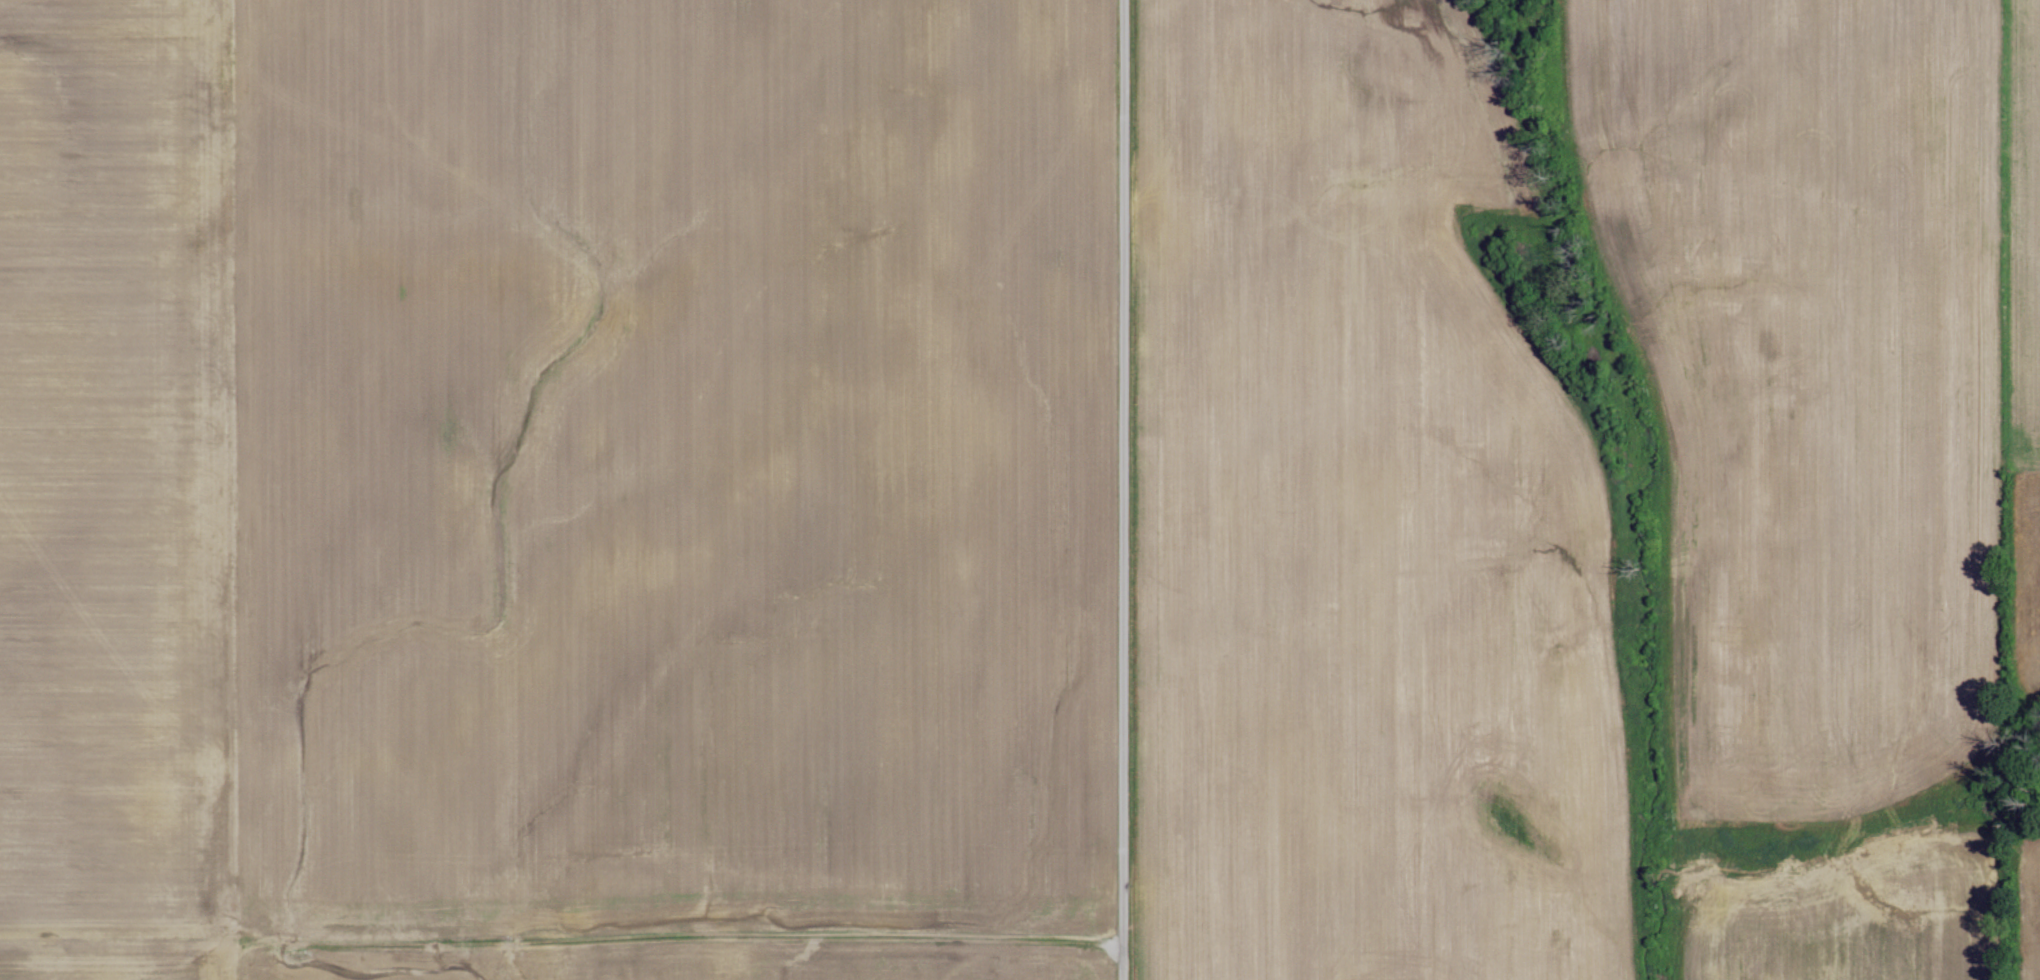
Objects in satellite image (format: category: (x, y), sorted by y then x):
road: (1128, 490)

